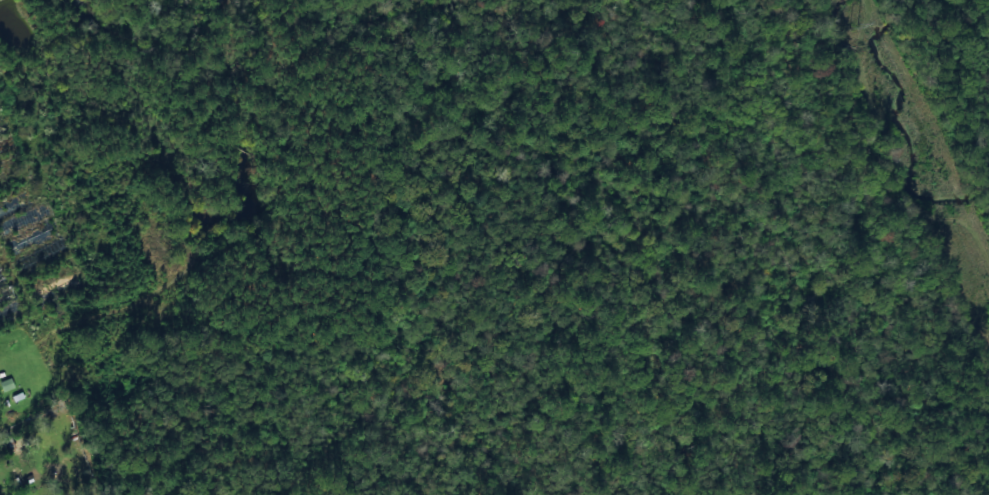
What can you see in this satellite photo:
power tower: (870, 24)

